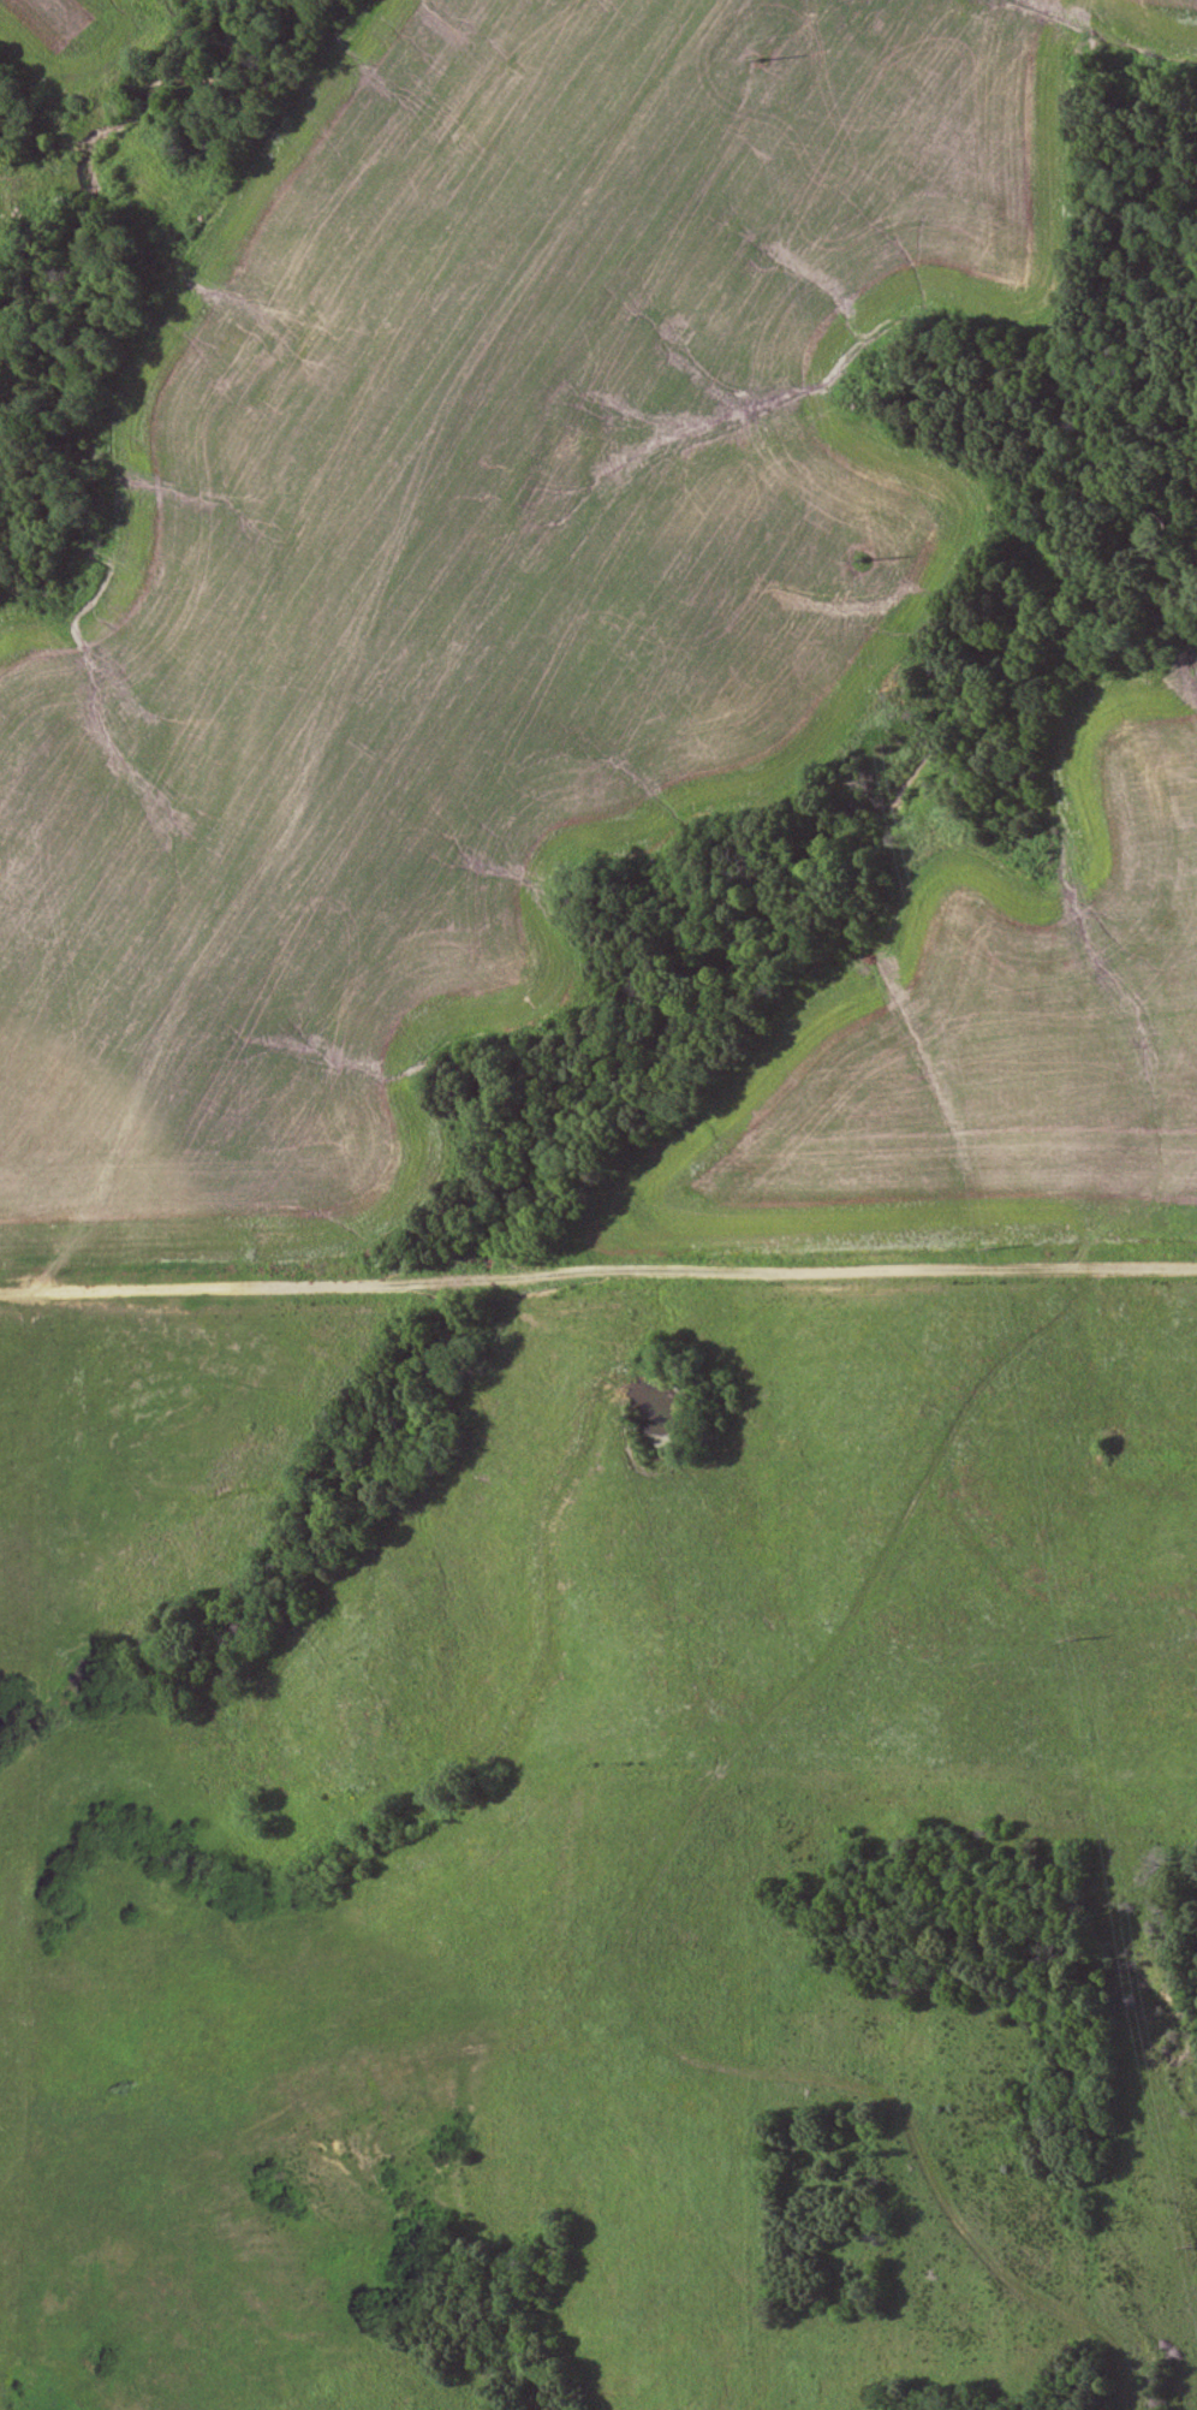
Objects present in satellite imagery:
road: (1104, 1272)
road: (25, 1292)

